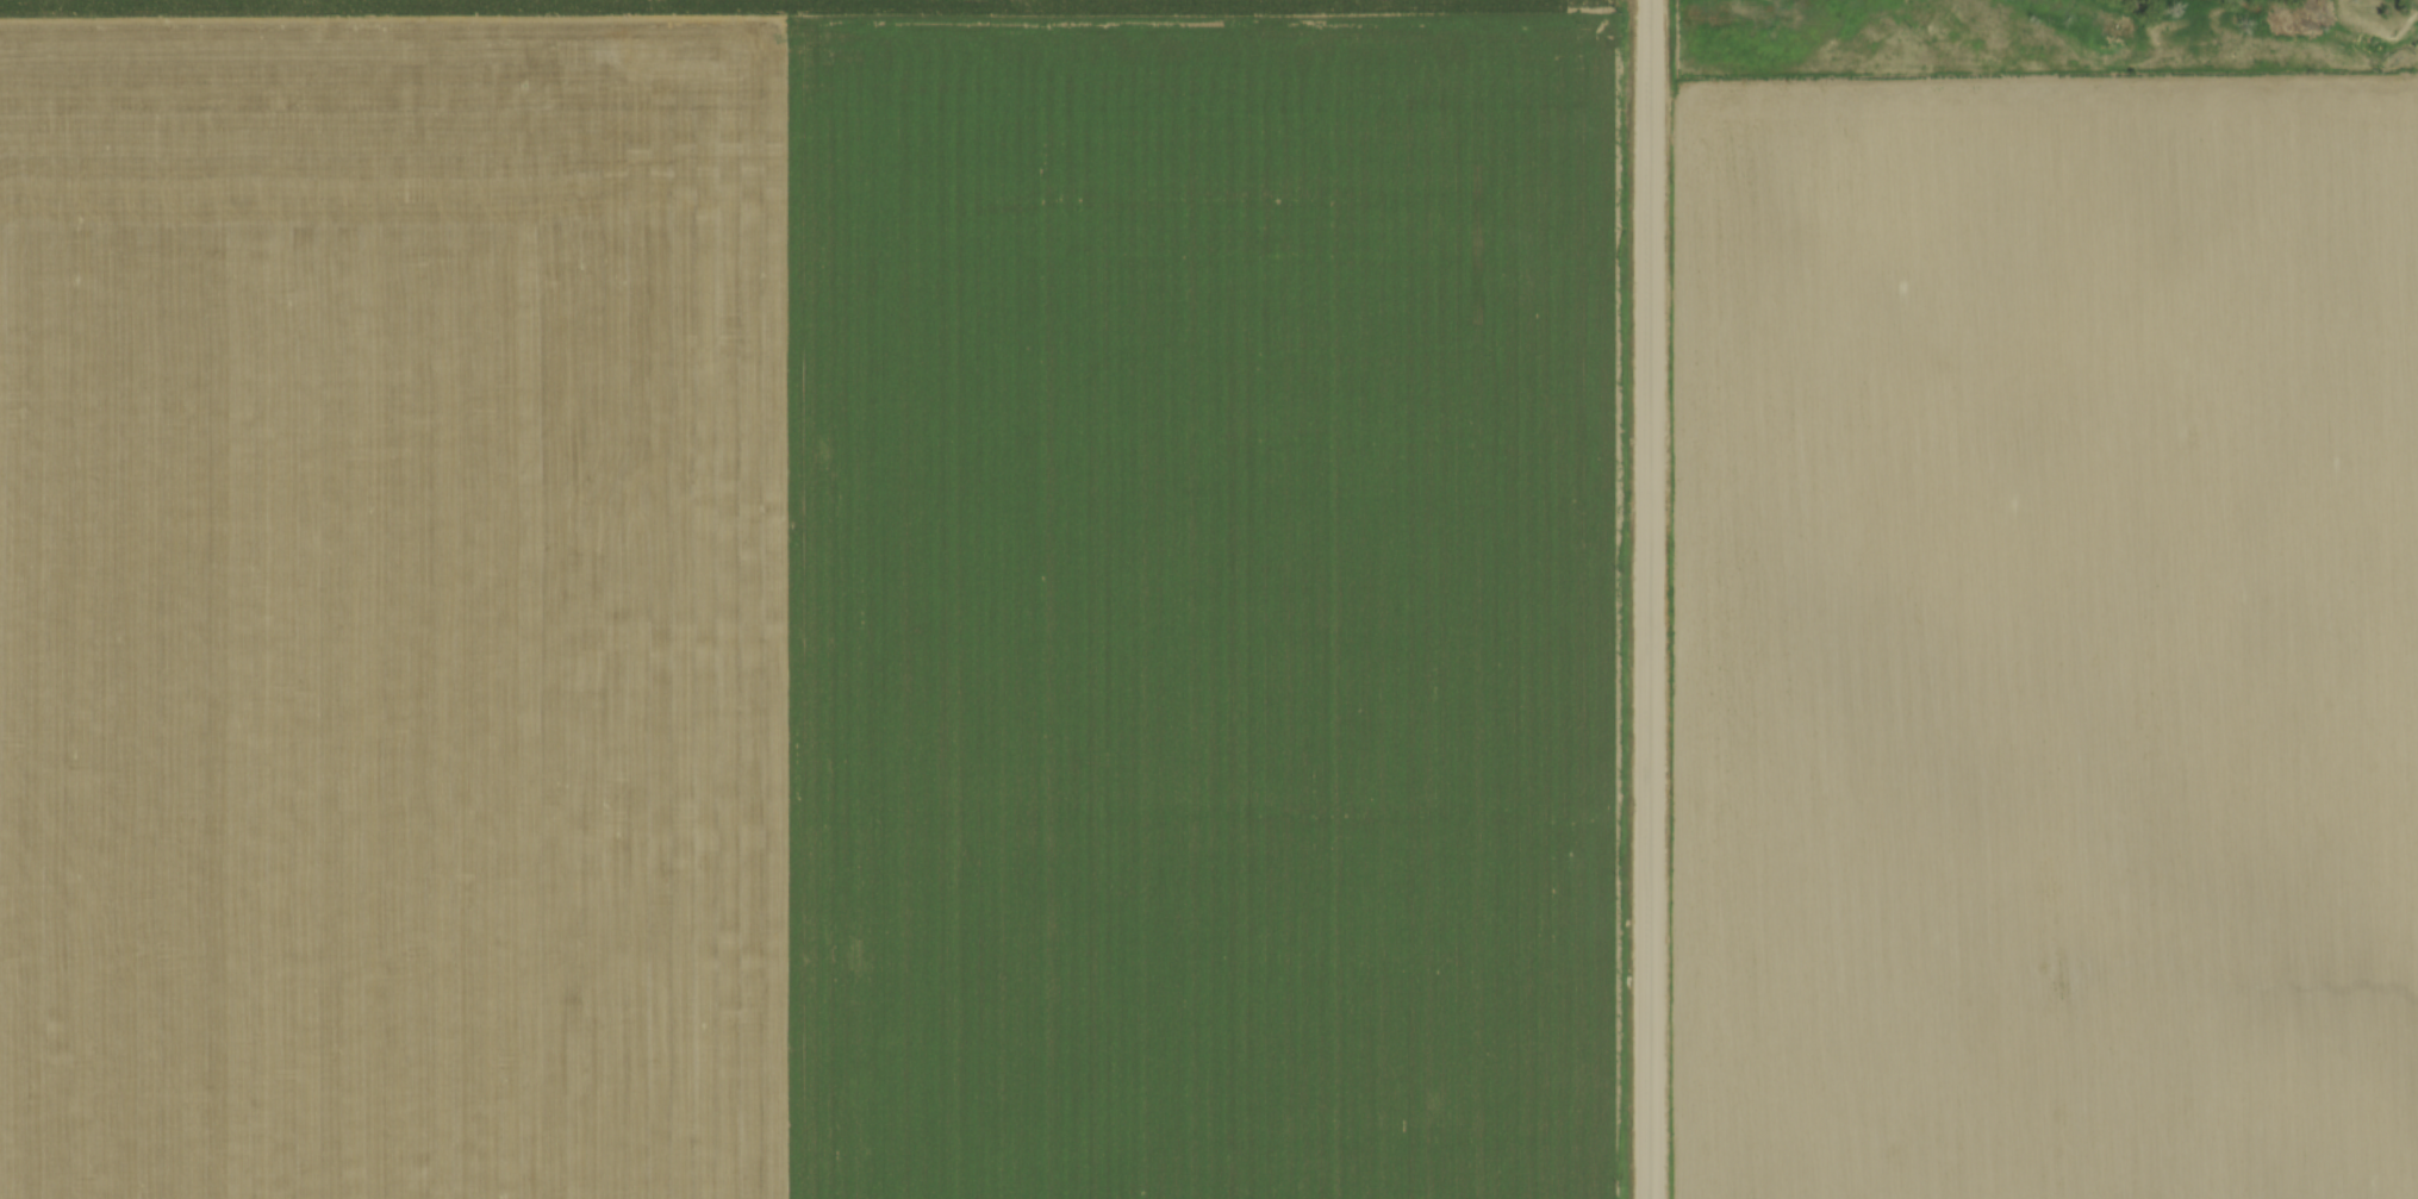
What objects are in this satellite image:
road: (1650, 599)

